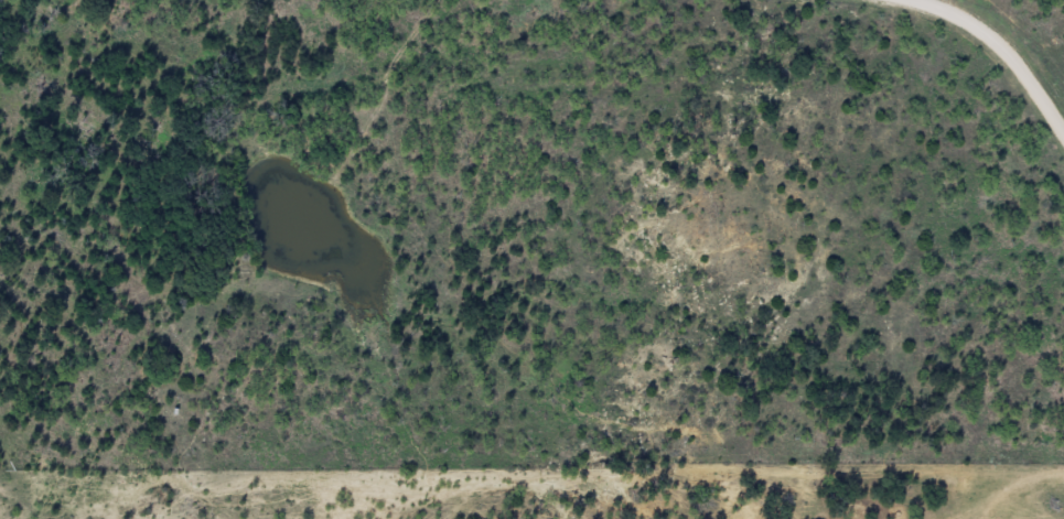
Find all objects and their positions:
road: (957, 41)

